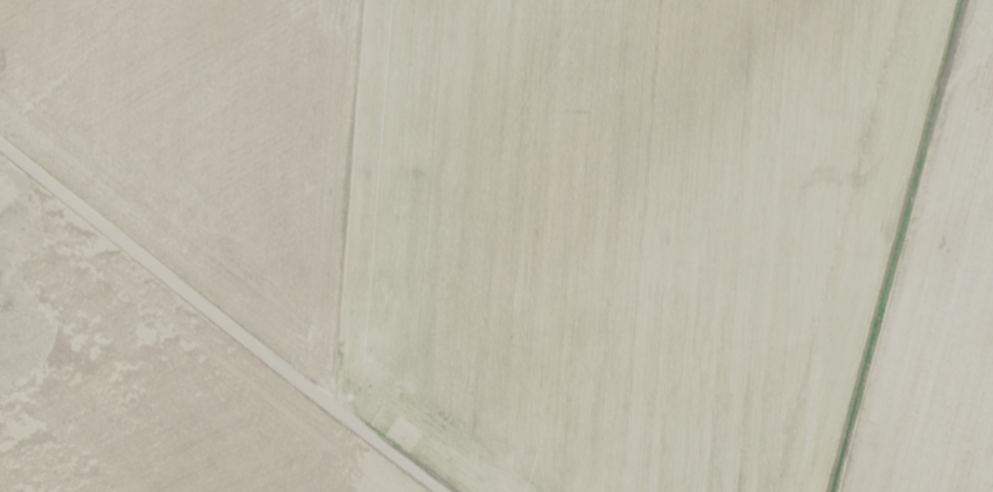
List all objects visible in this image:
road: (220, 319)

